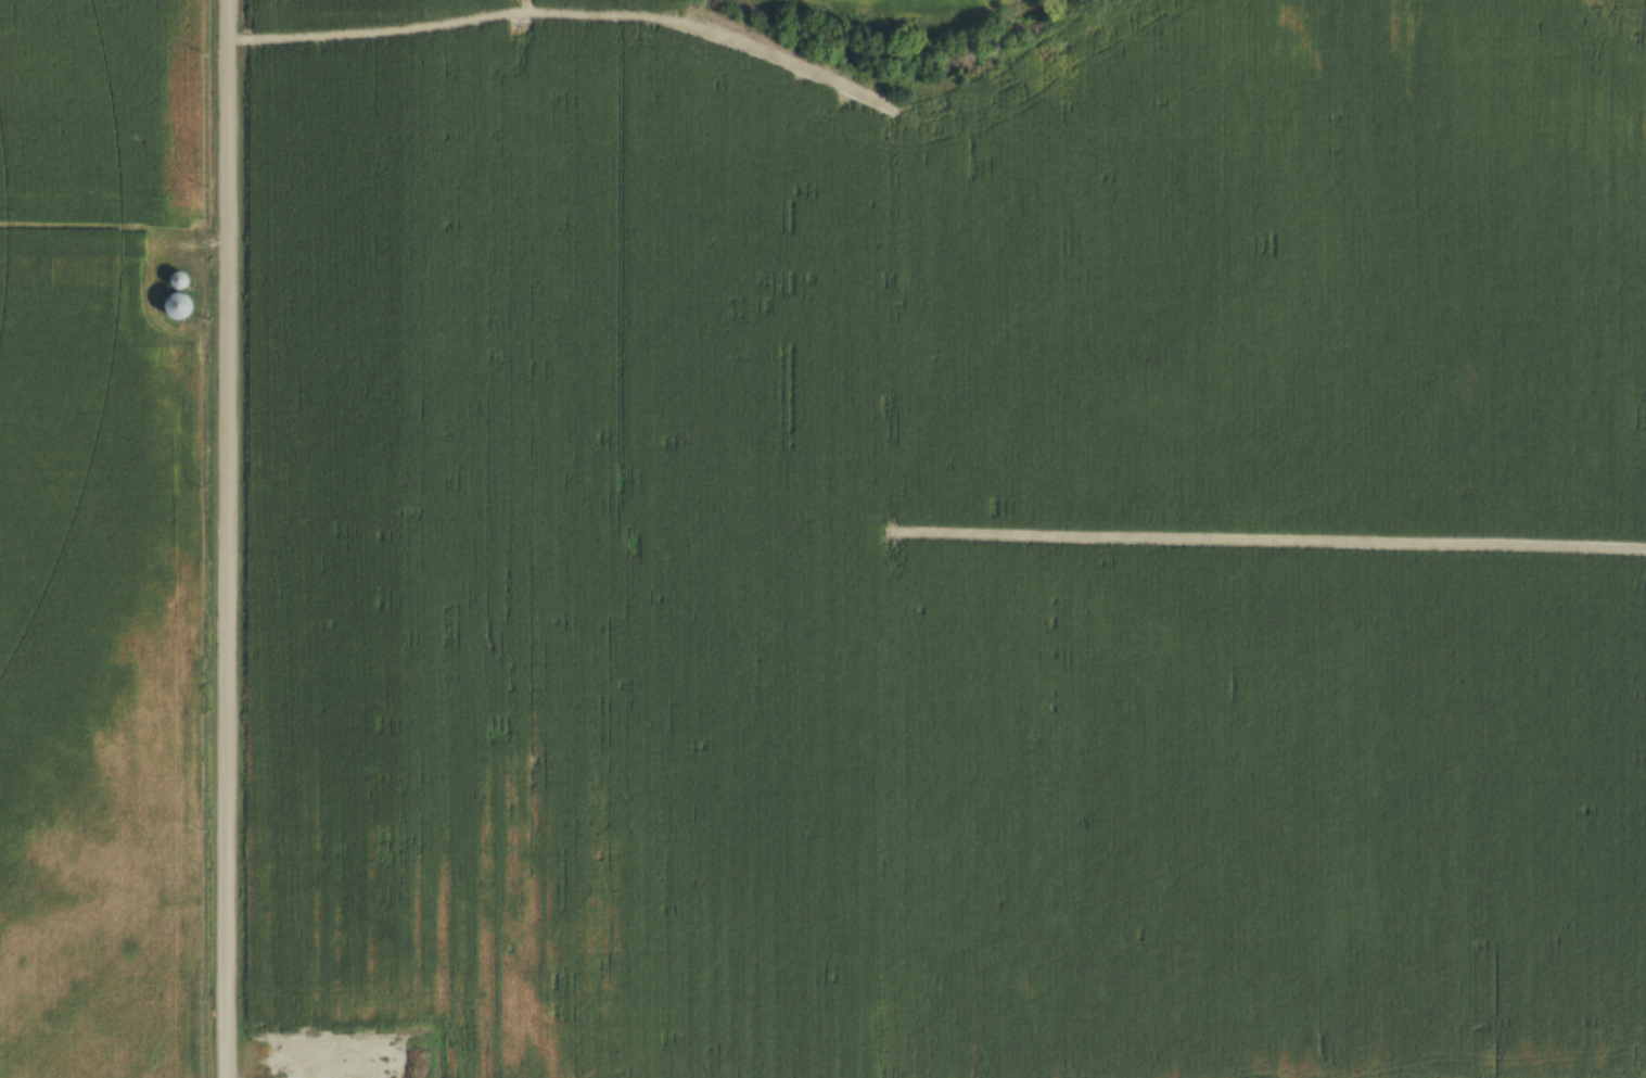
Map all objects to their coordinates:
road: (226, 538)

